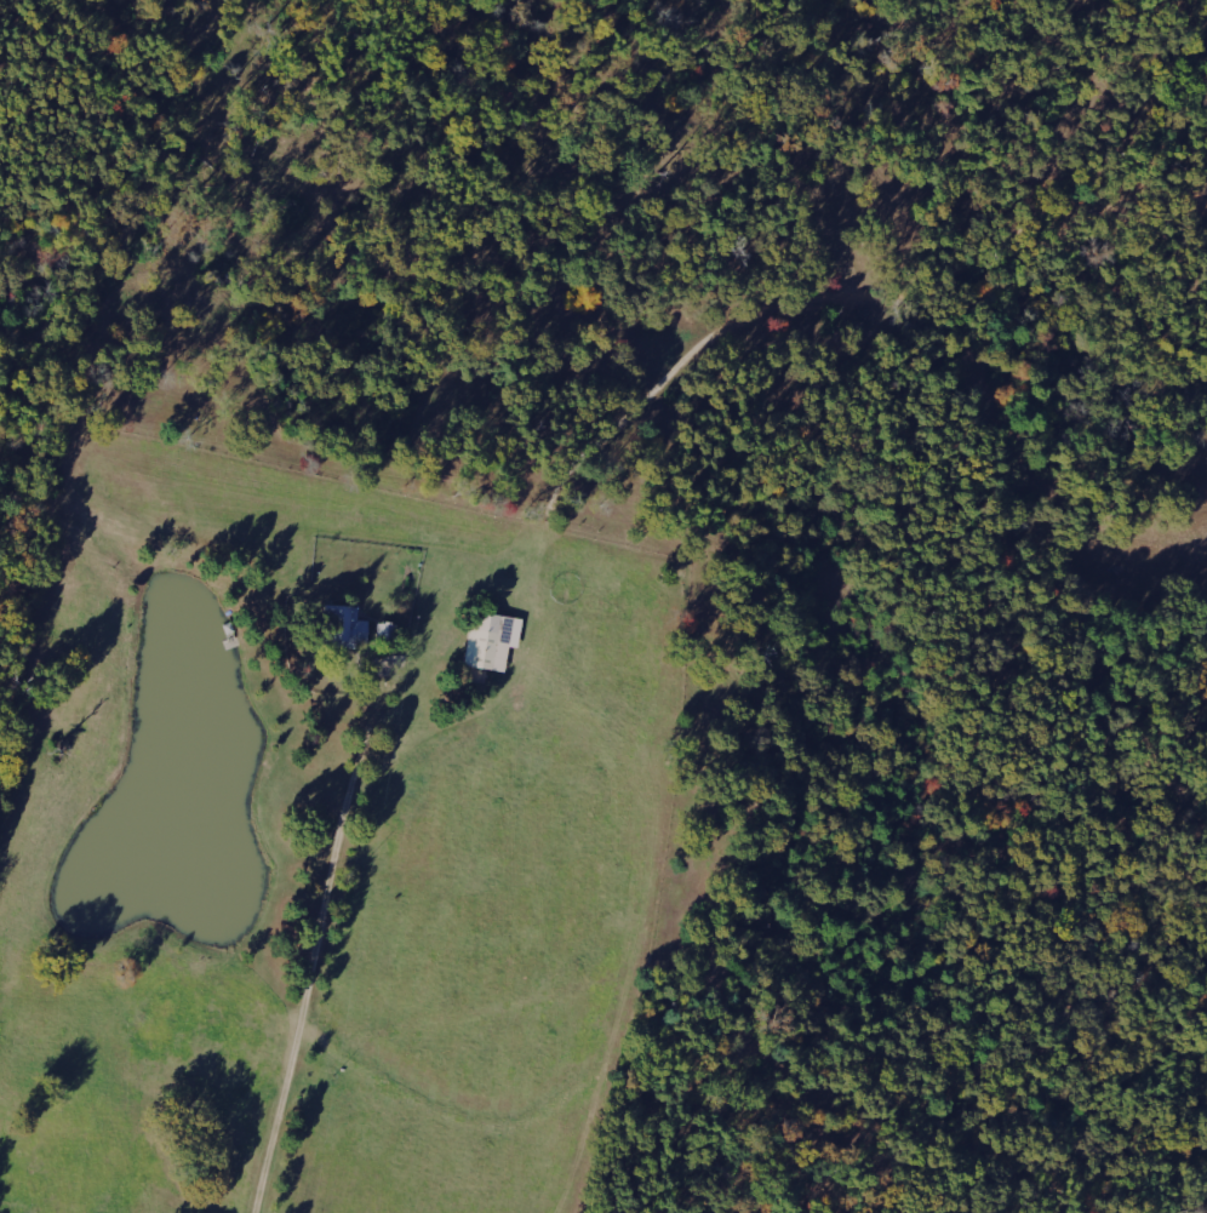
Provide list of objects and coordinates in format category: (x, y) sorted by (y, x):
building: (350, 628)
building: (487, 641)

